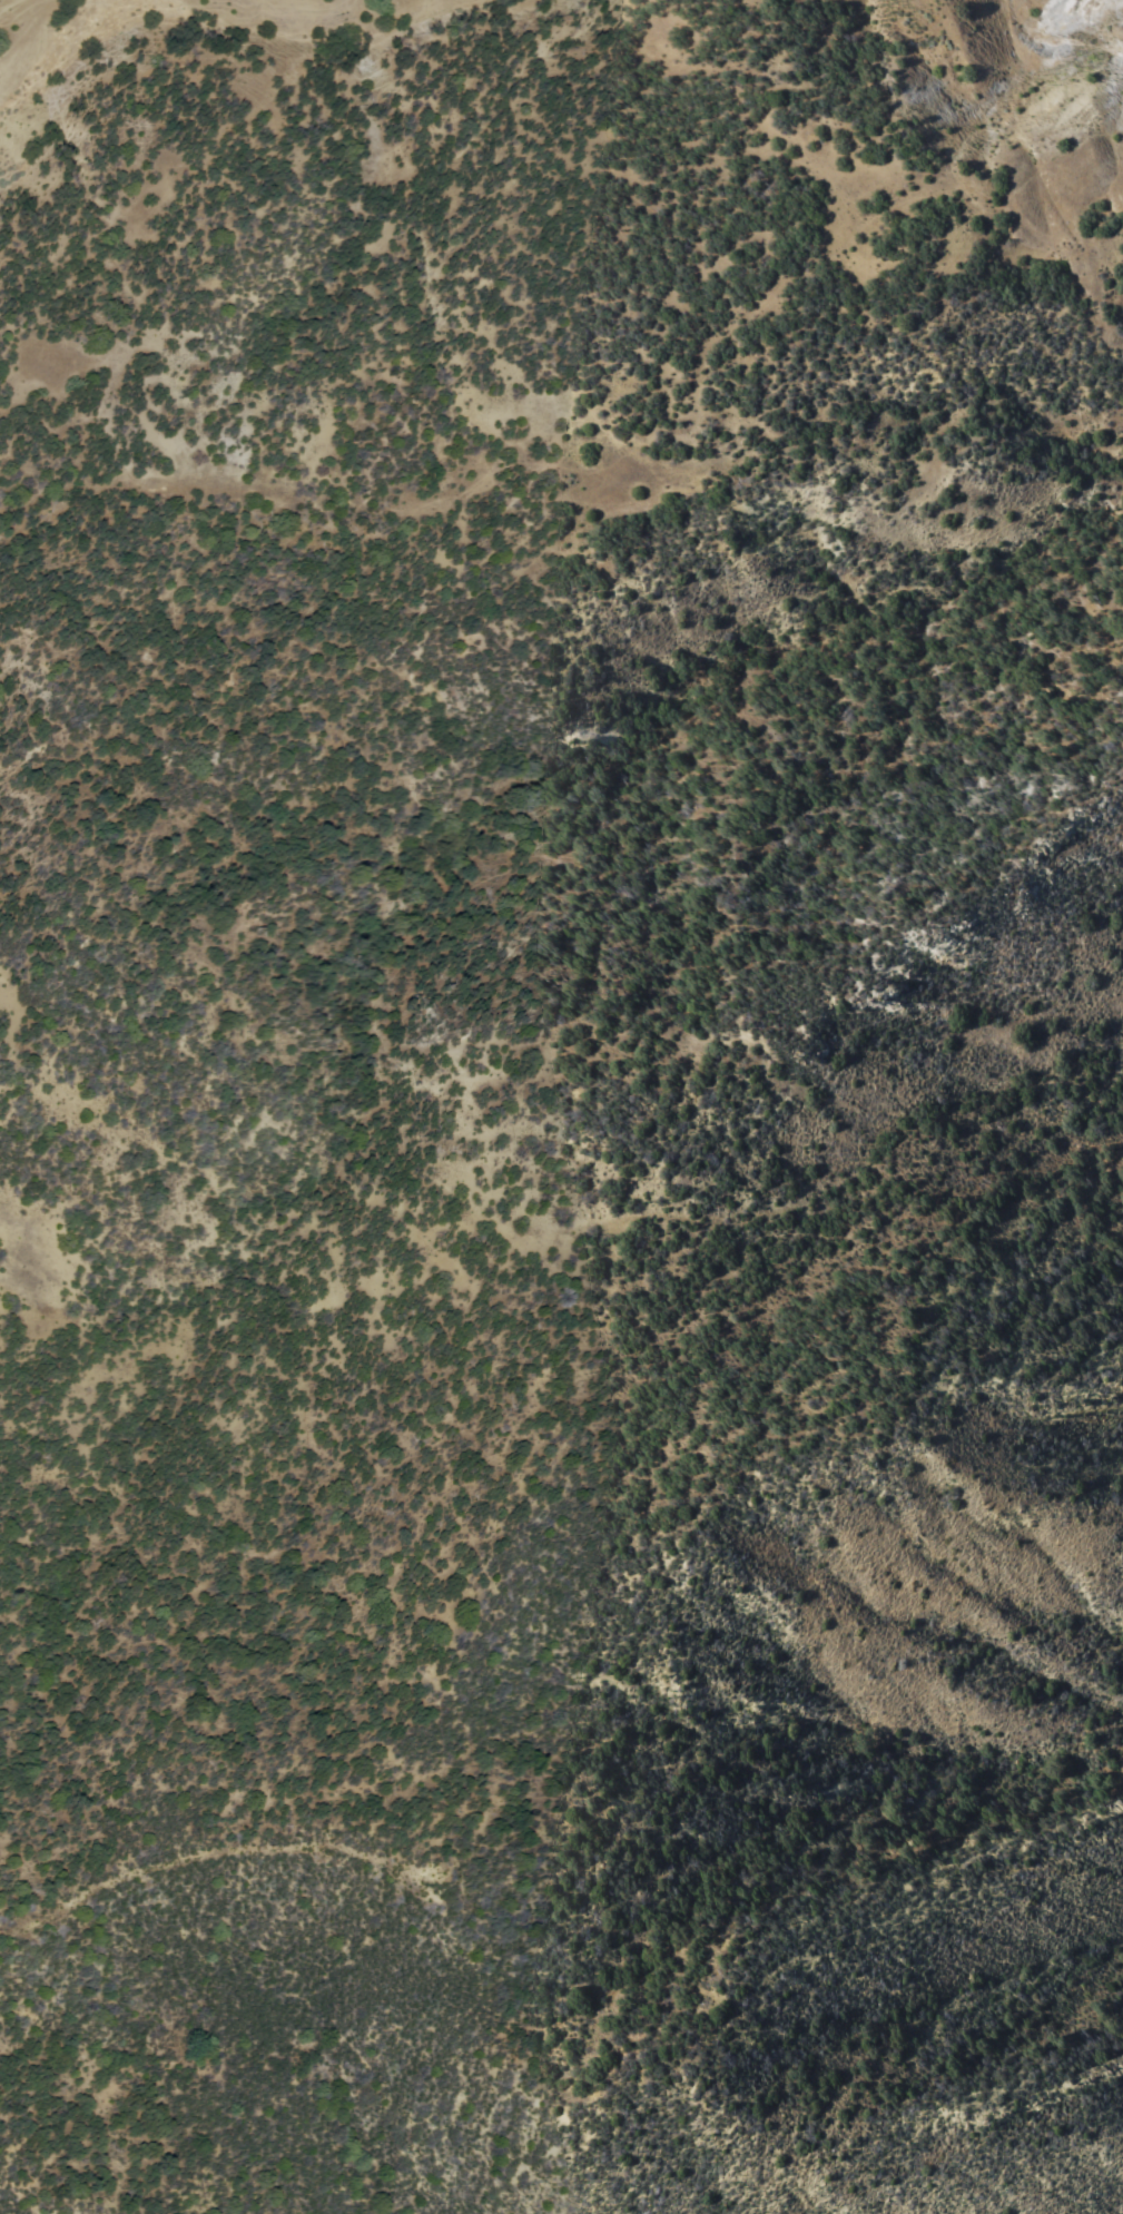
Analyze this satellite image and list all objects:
road: (1099, 50)

